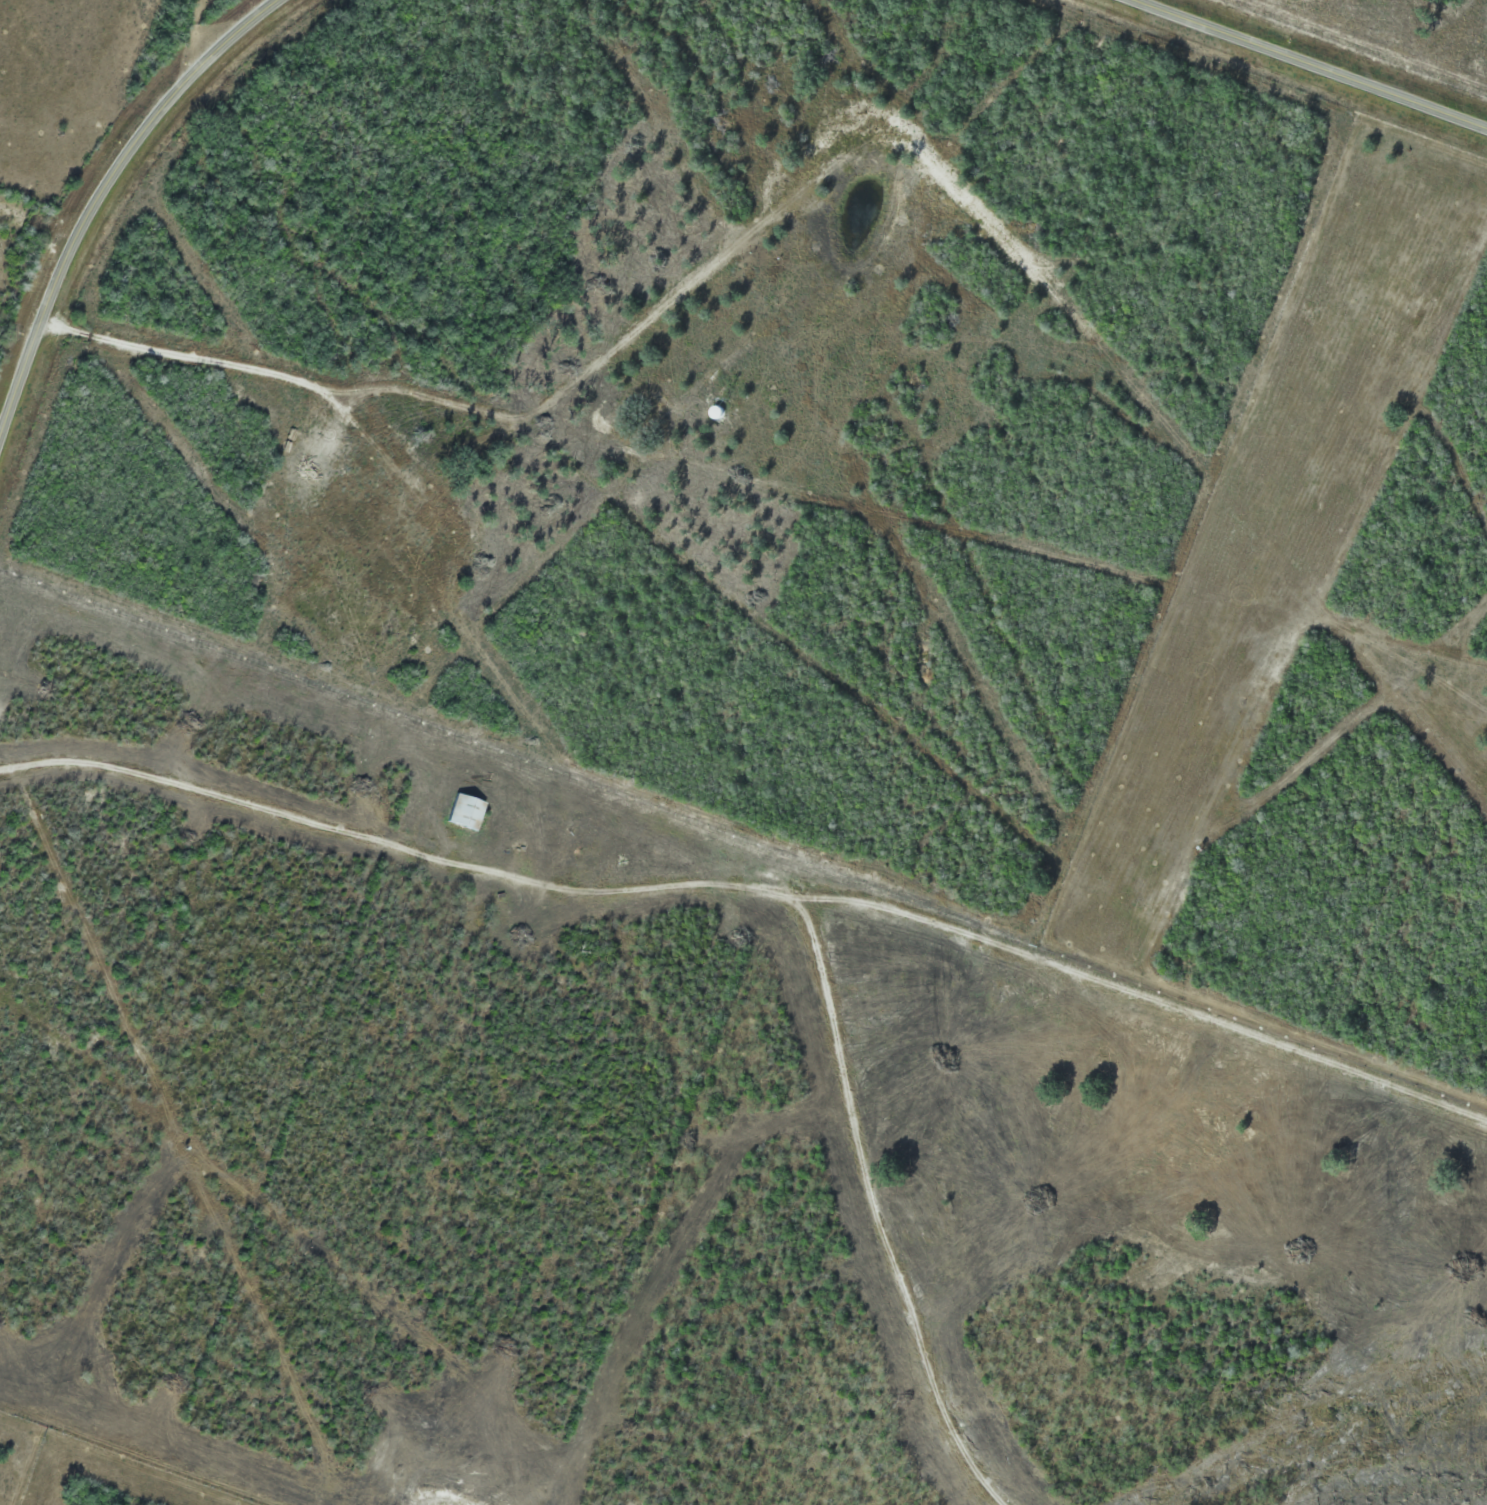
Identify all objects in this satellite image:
road: (1309, 65)
road: (102, 201)
road: (1286, 236)
road: (1204, 395)
building: (467, 810)

